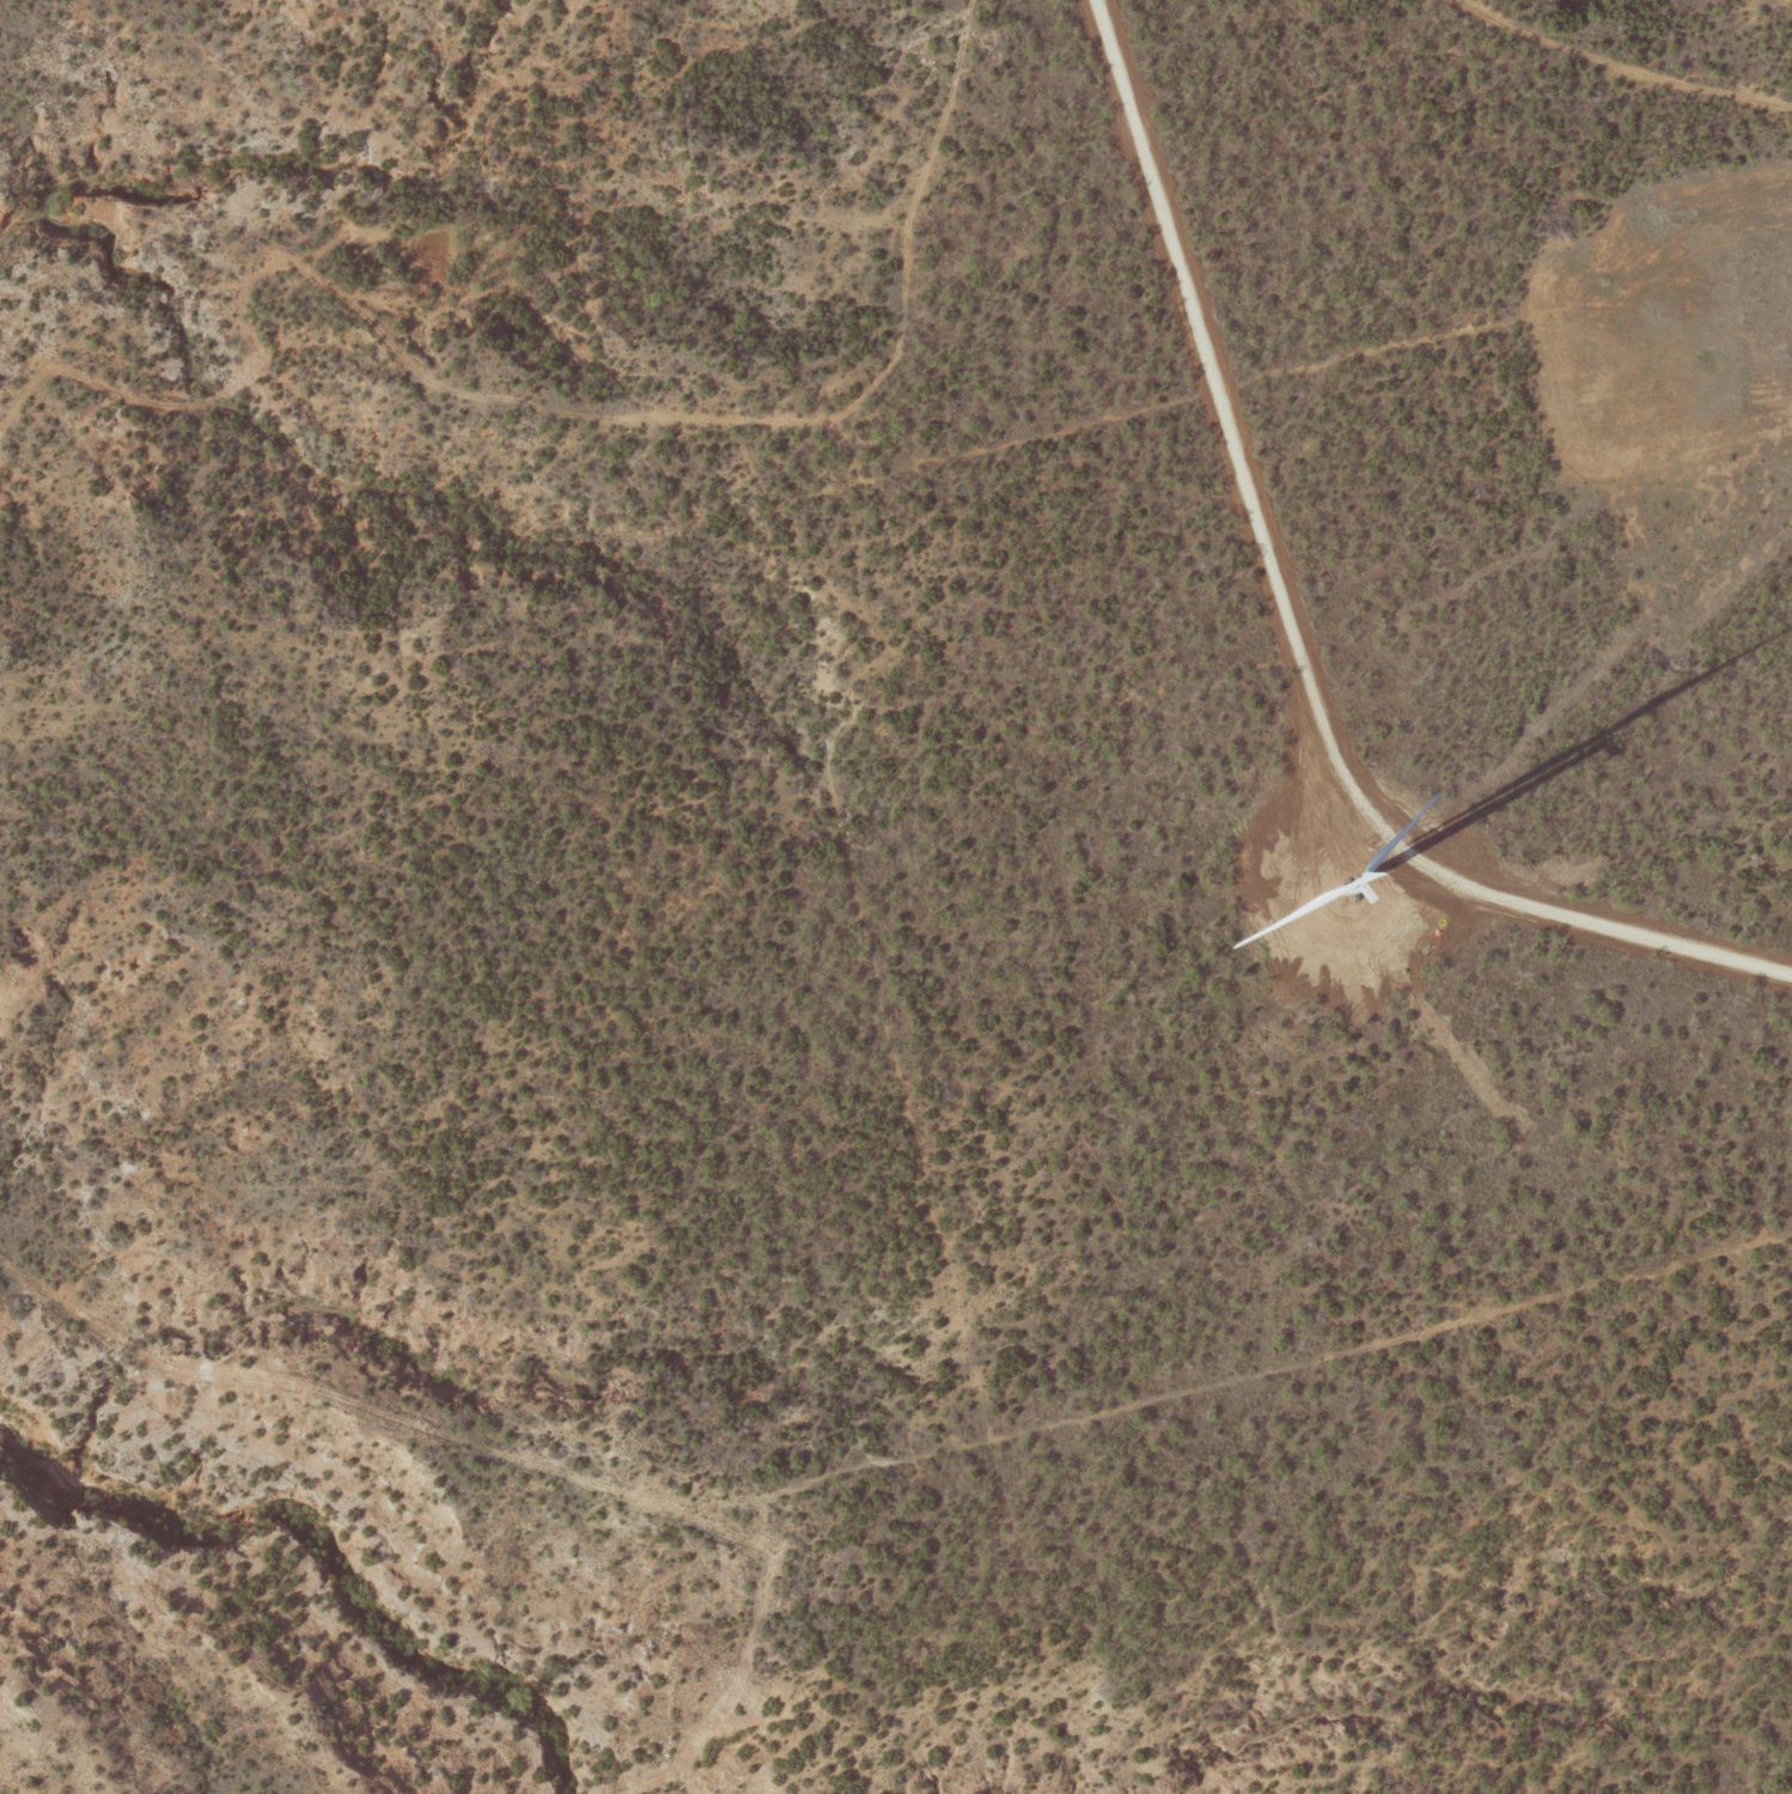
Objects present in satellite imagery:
wind turbine: (1359, 870)

